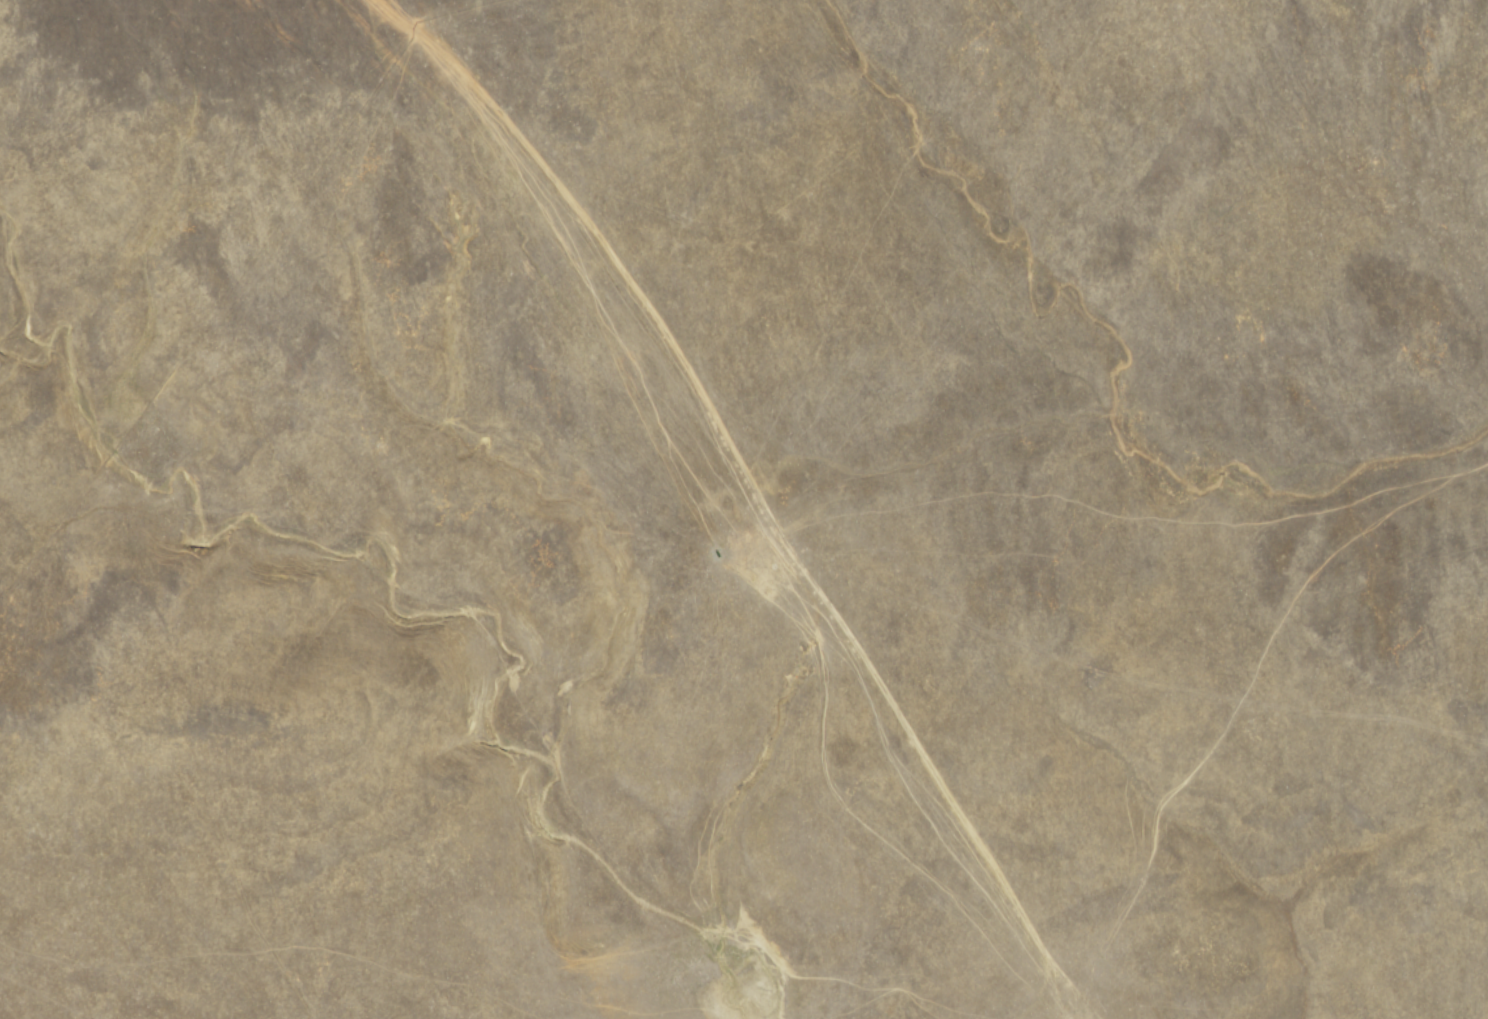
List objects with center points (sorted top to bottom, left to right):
road: (771, 491)

